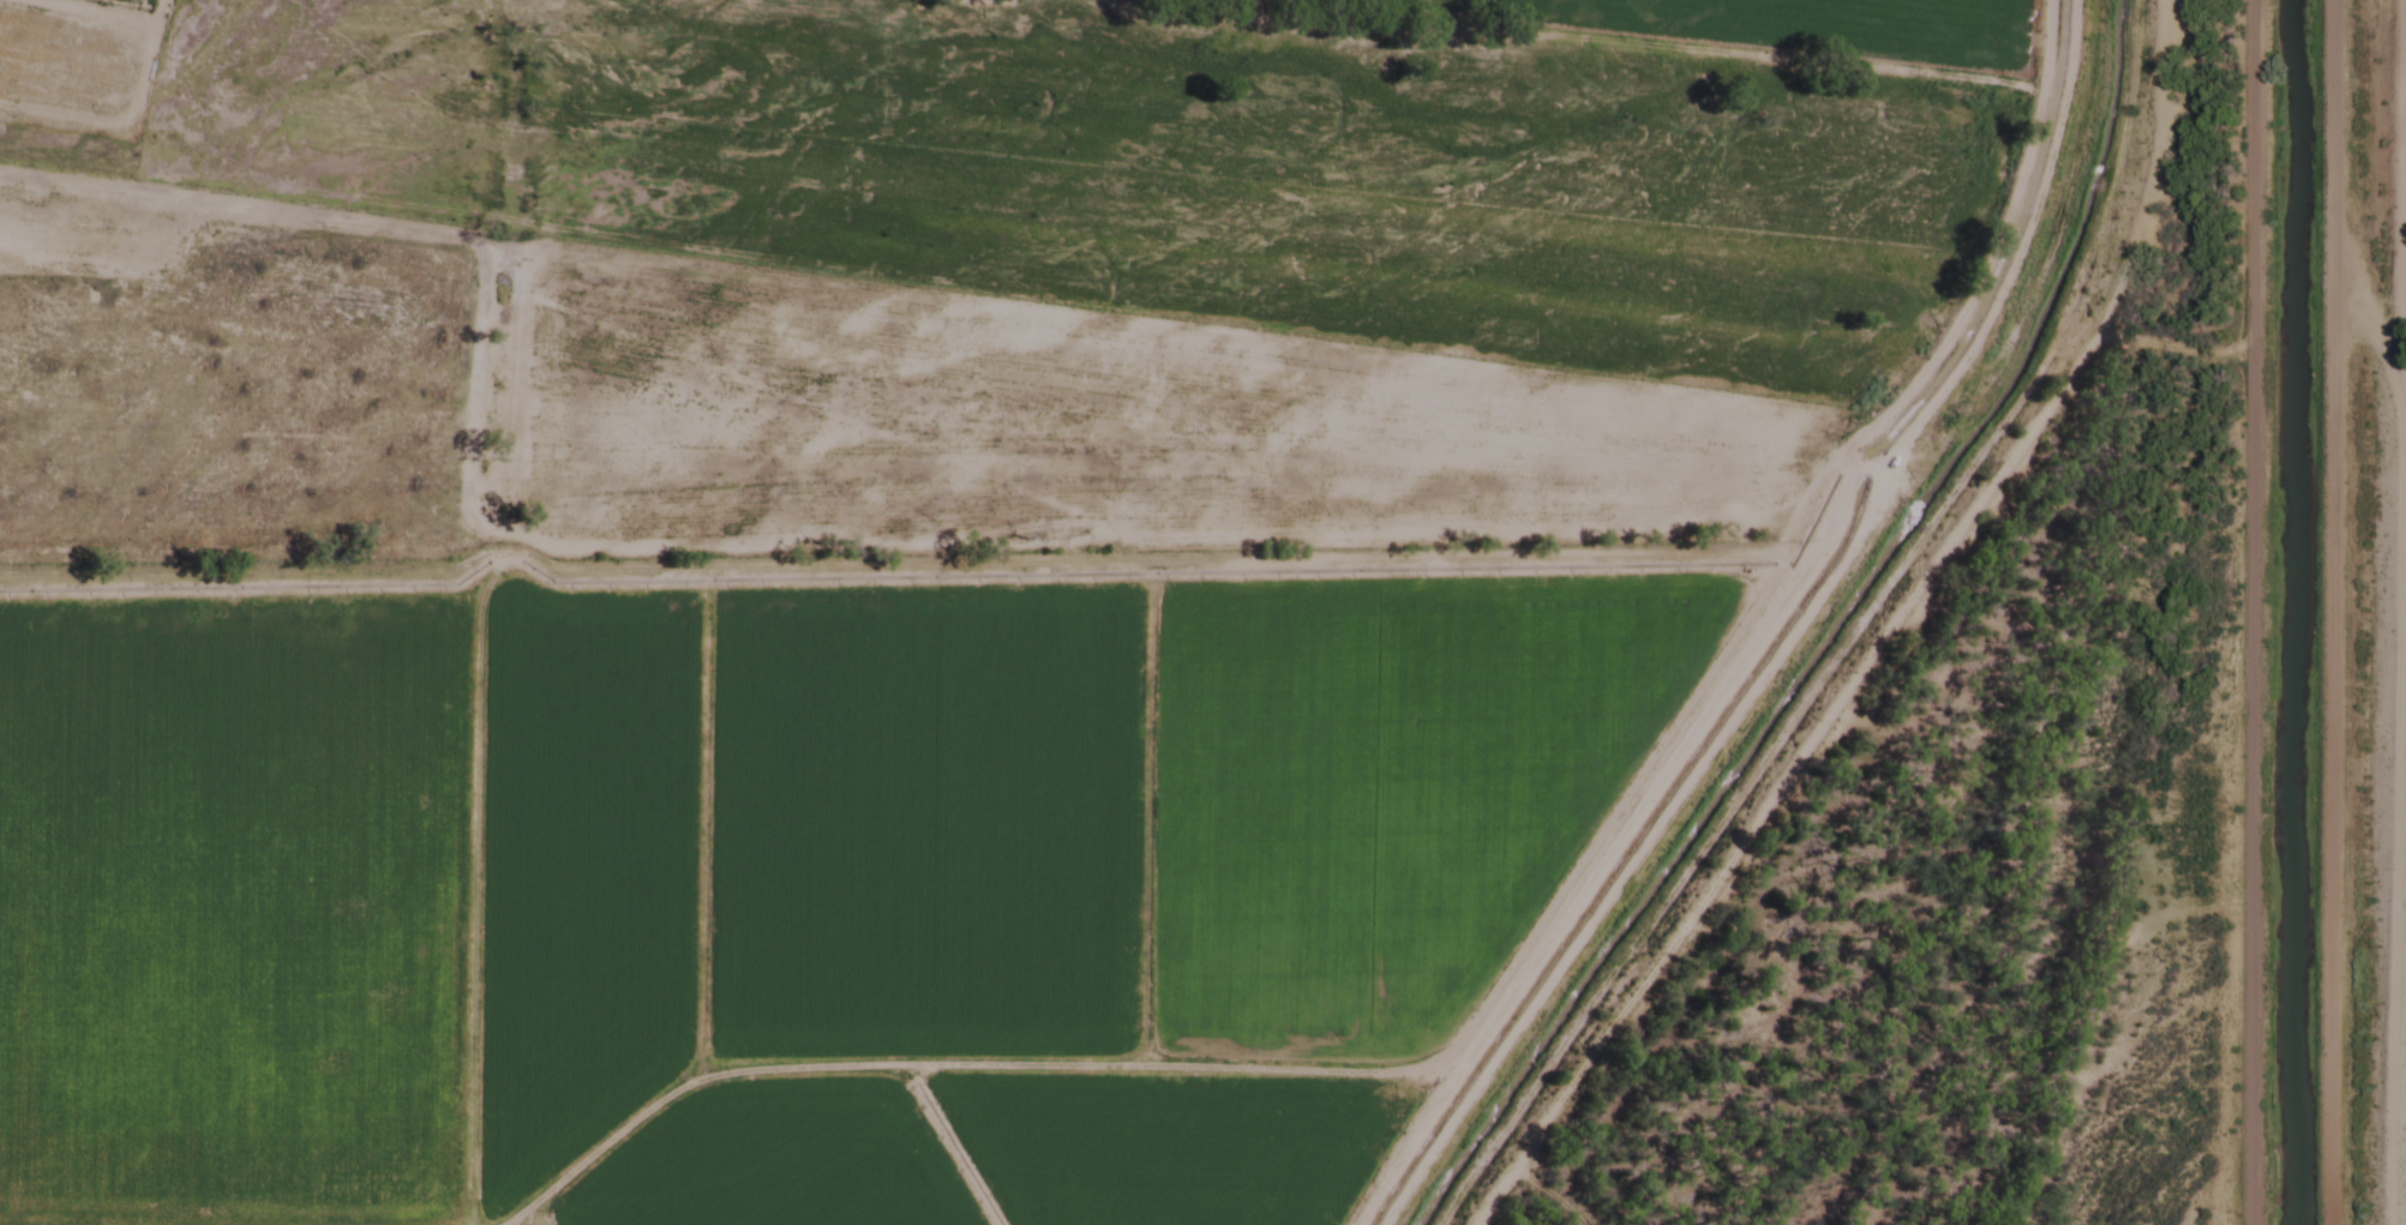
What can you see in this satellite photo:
road: (2254, 612)
road: (2392, 612)
road: (1765, 631)

